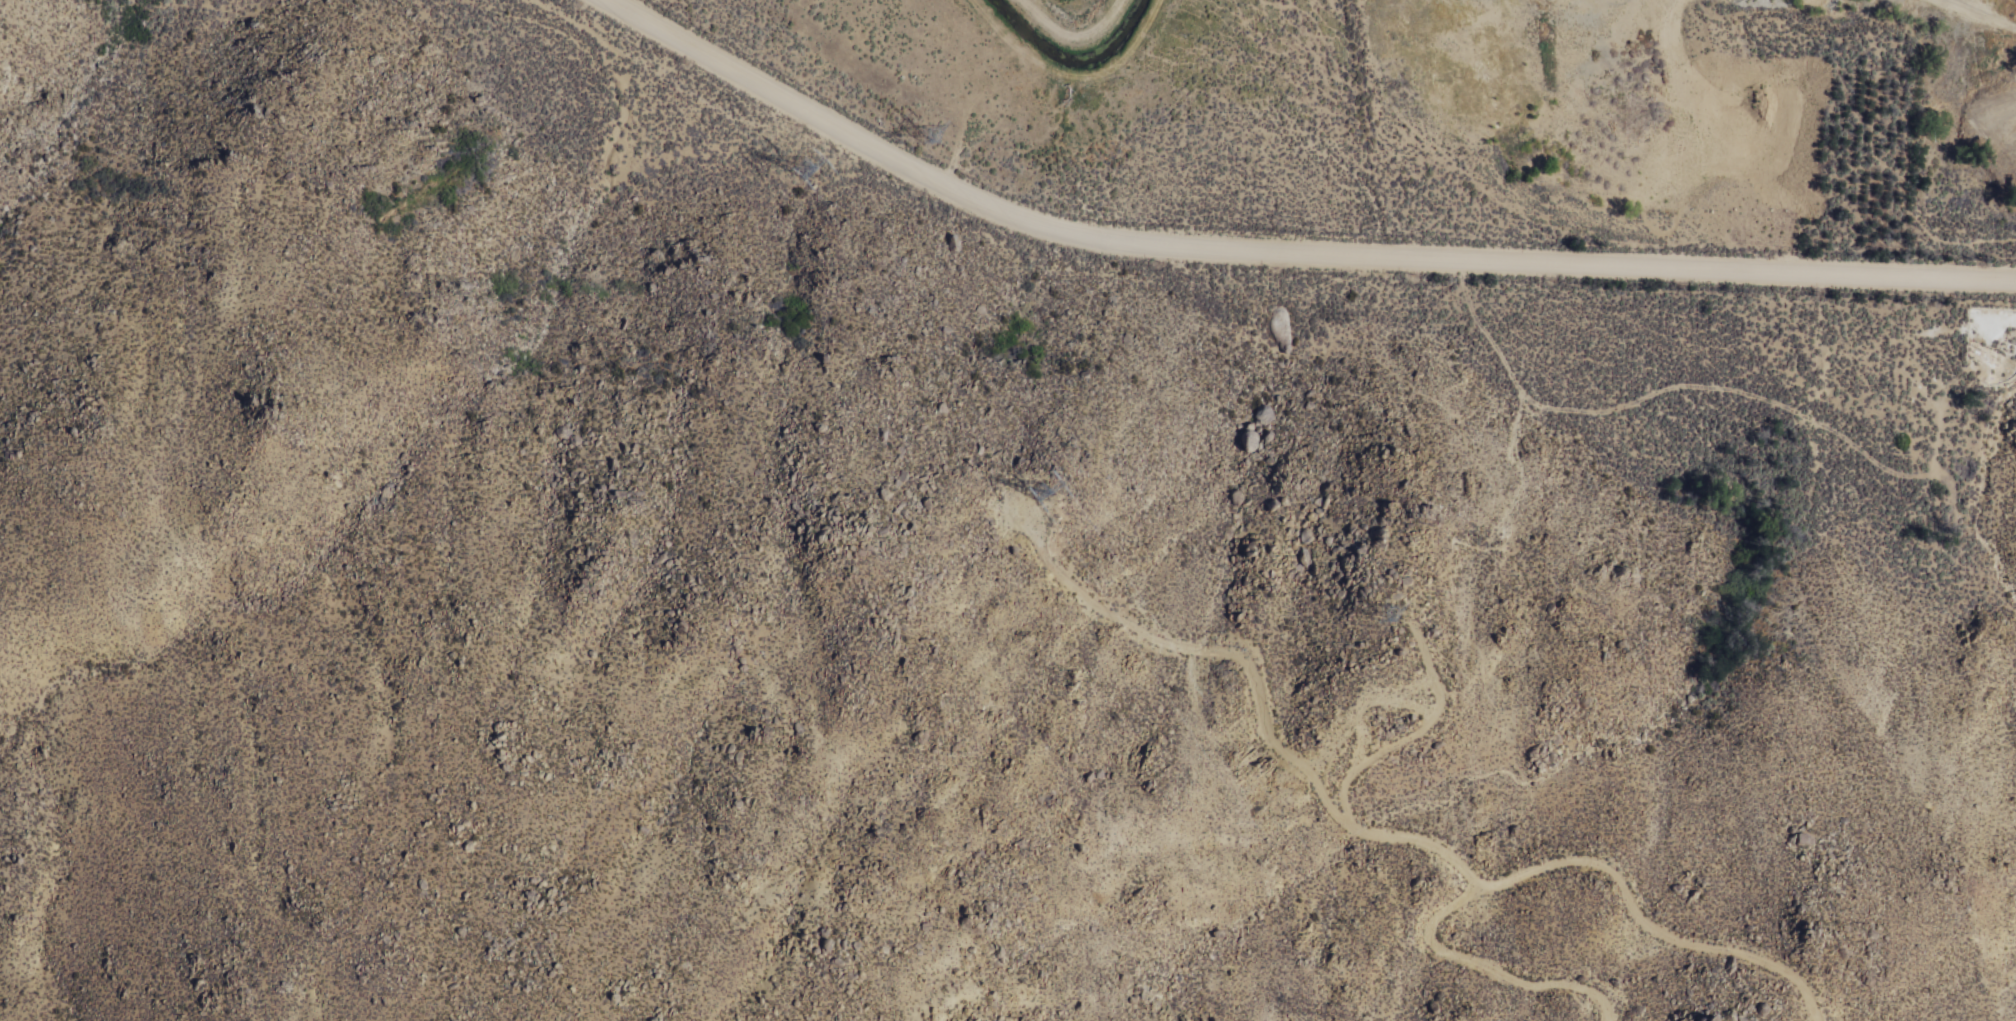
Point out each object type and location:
road: (1070, 39)
road: (1070, 82)
quarry: (1724, 113)
power tower: (924, 133)
power tower: (806, 169)
road: (1283, 254)
power tower: (1036, 488)
power tower: (1389, 614)
road: (1405, 736)
road: (1371, 837)
road: (1480, 967)

